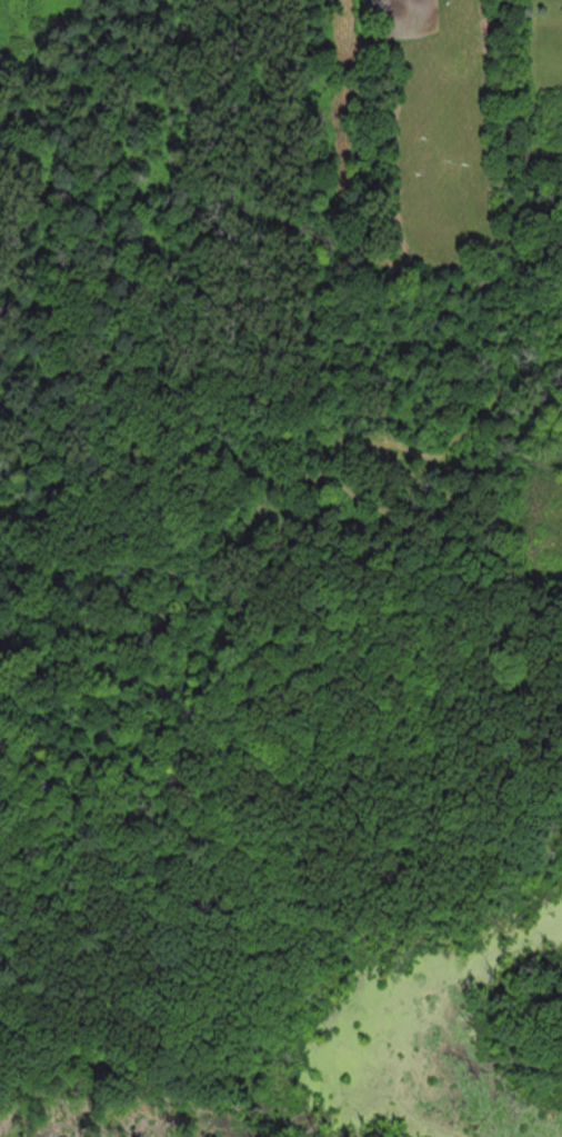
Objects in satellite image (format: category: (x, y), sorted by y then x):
park: (258, 864)

